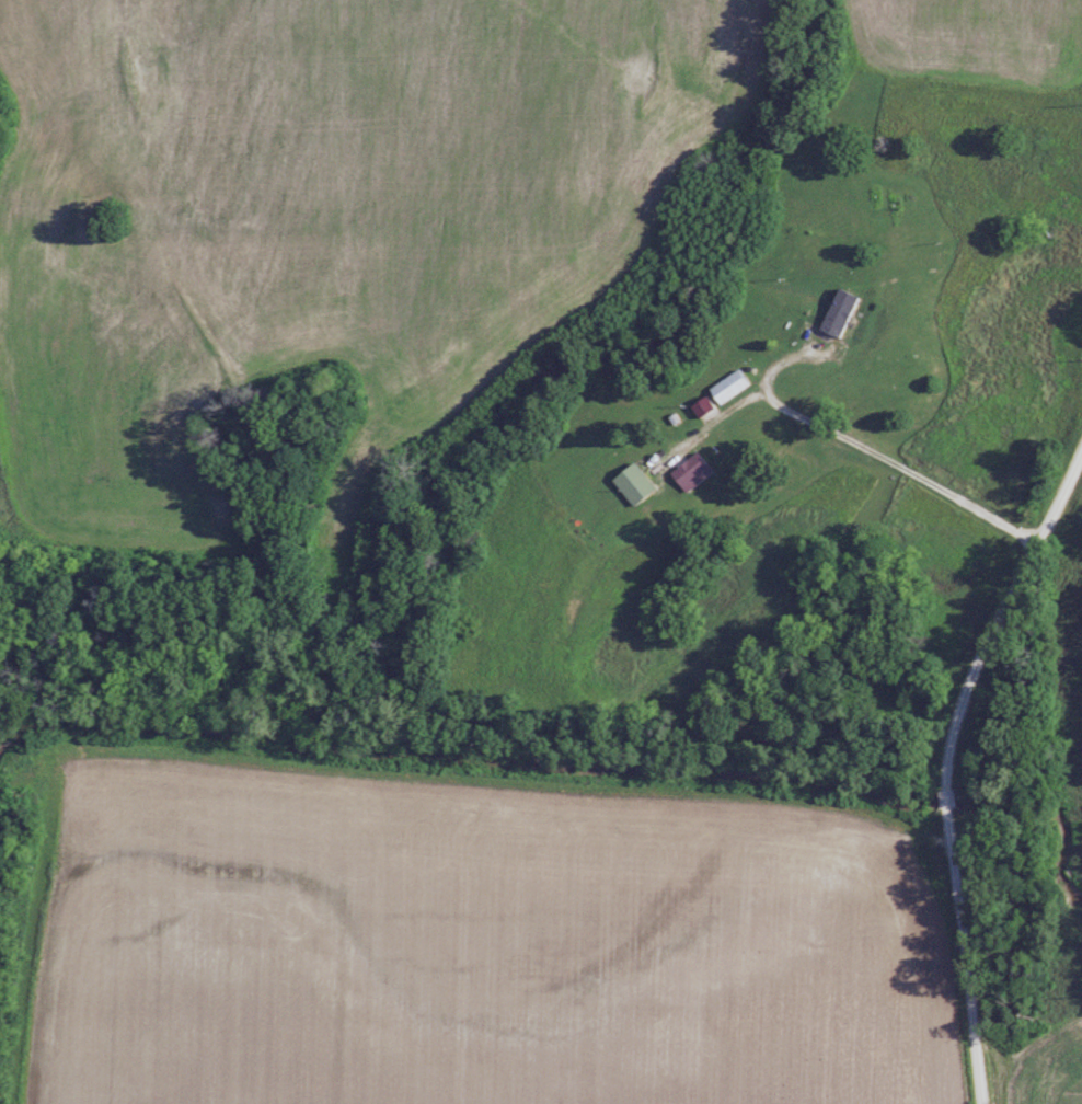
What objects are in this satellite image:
building: (840, 312)
building: (730, 386)
road: (844, 587)
road: (969, 766)

